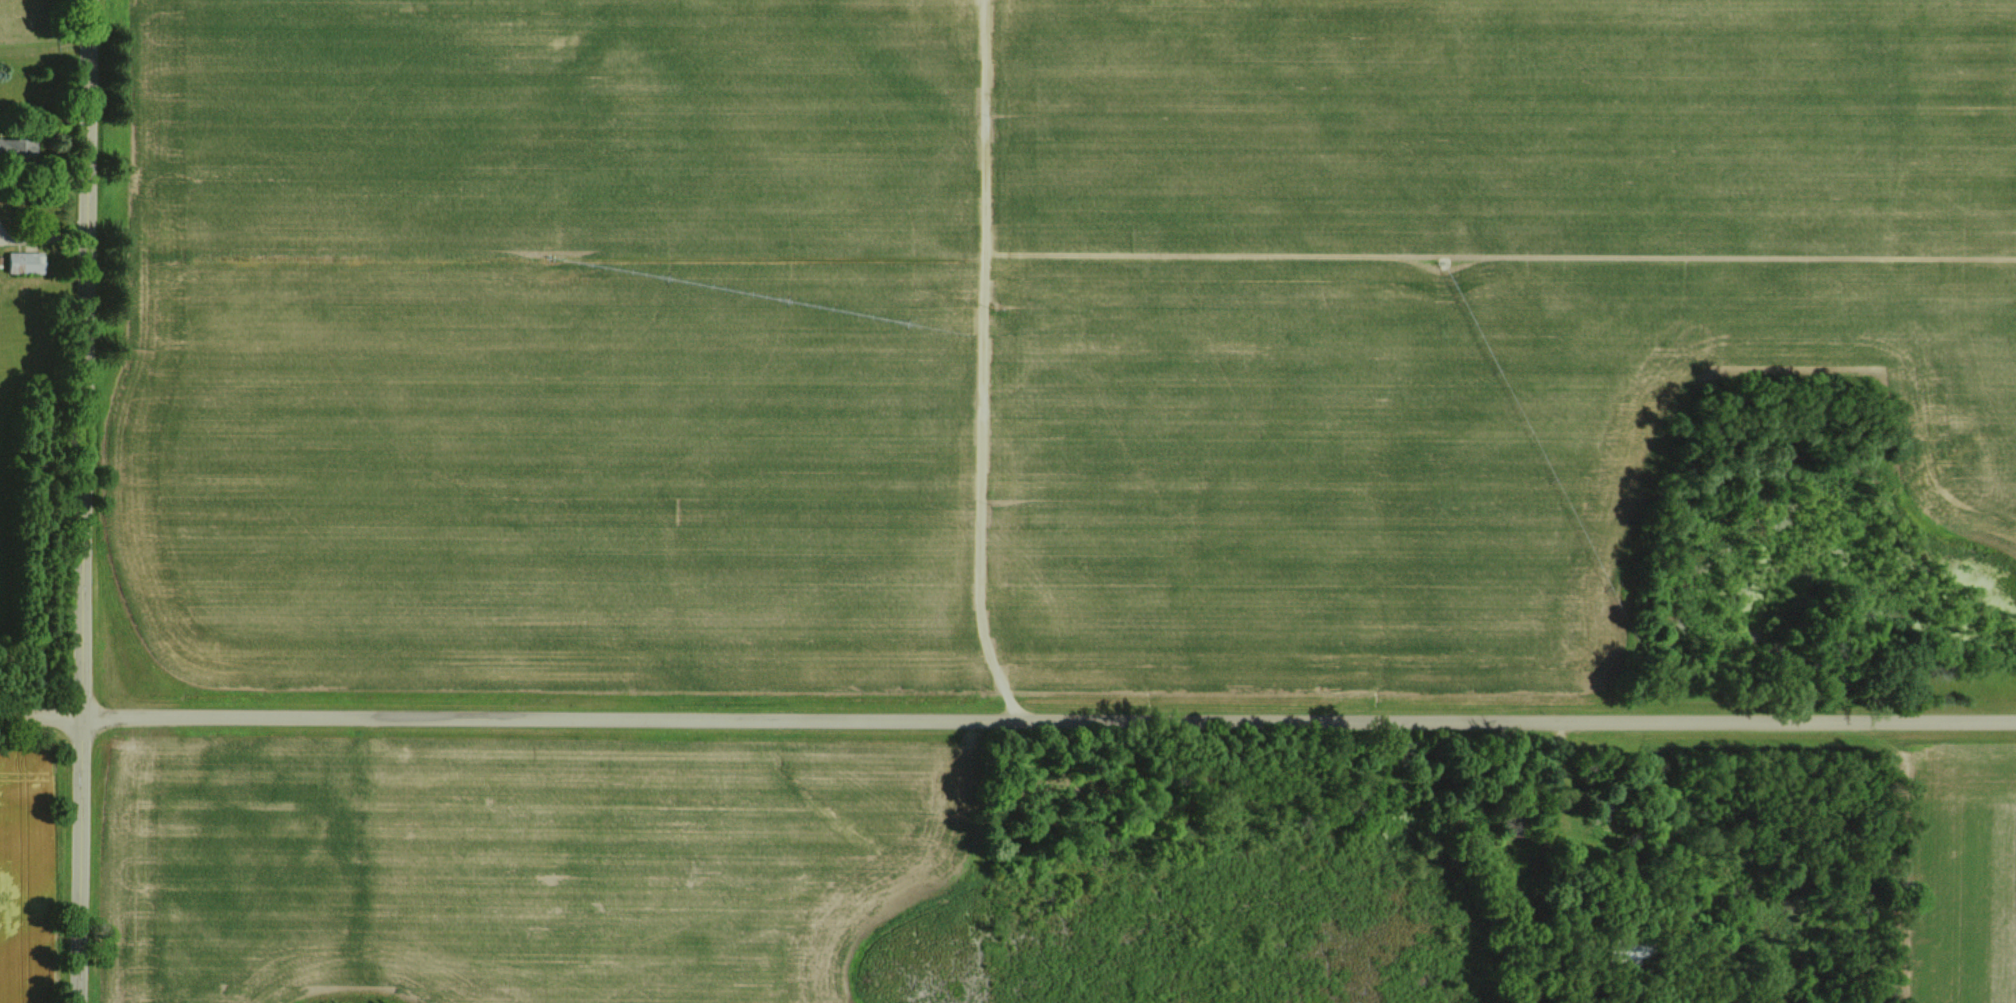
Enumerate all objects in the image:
building: (16, 150)
road: (40, 235)
building: (23, 262)
road: (77, 501)
road: (1007, 717)
building: (1598, 804)
building: (1627, 950)

